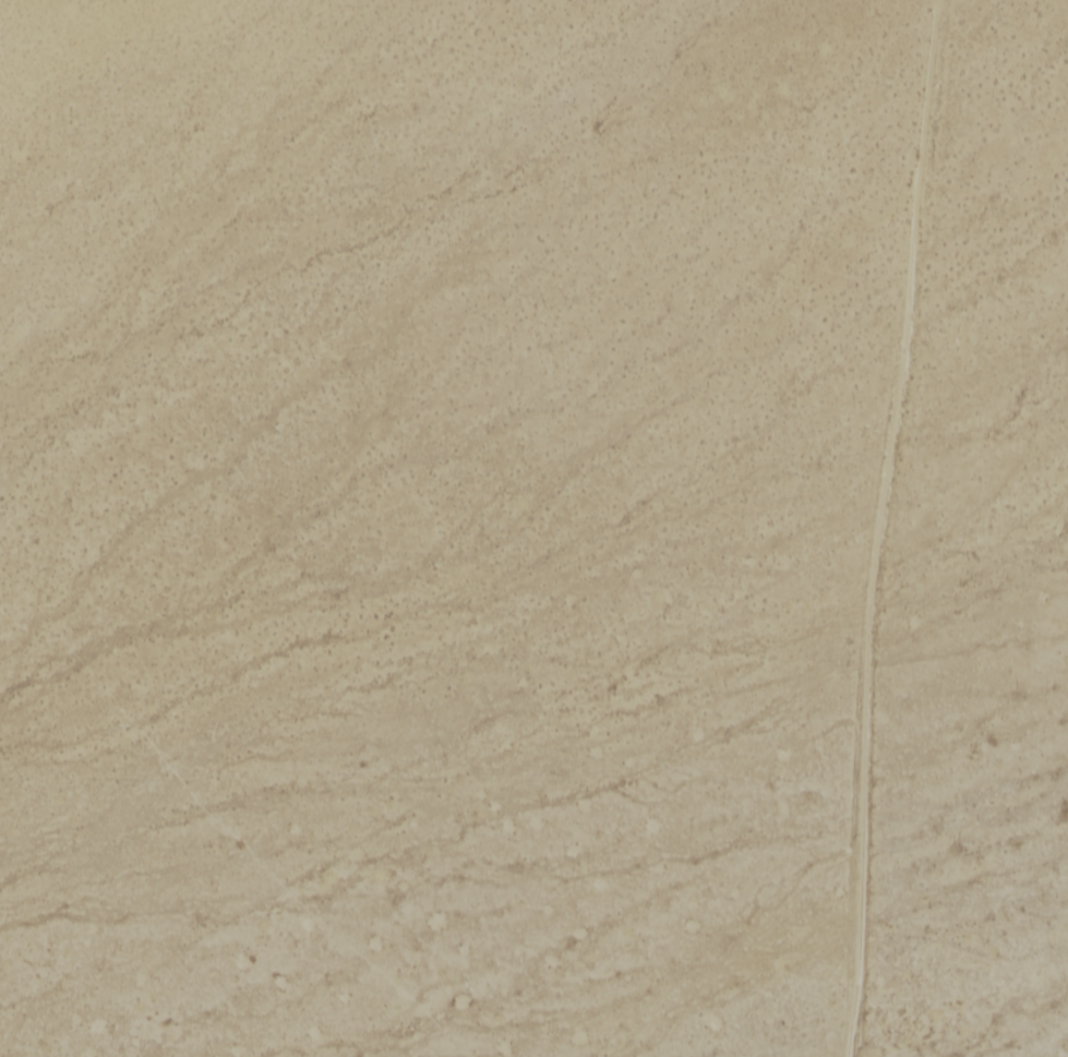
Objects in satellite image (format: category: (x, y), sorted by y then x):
road: (883, 527)

